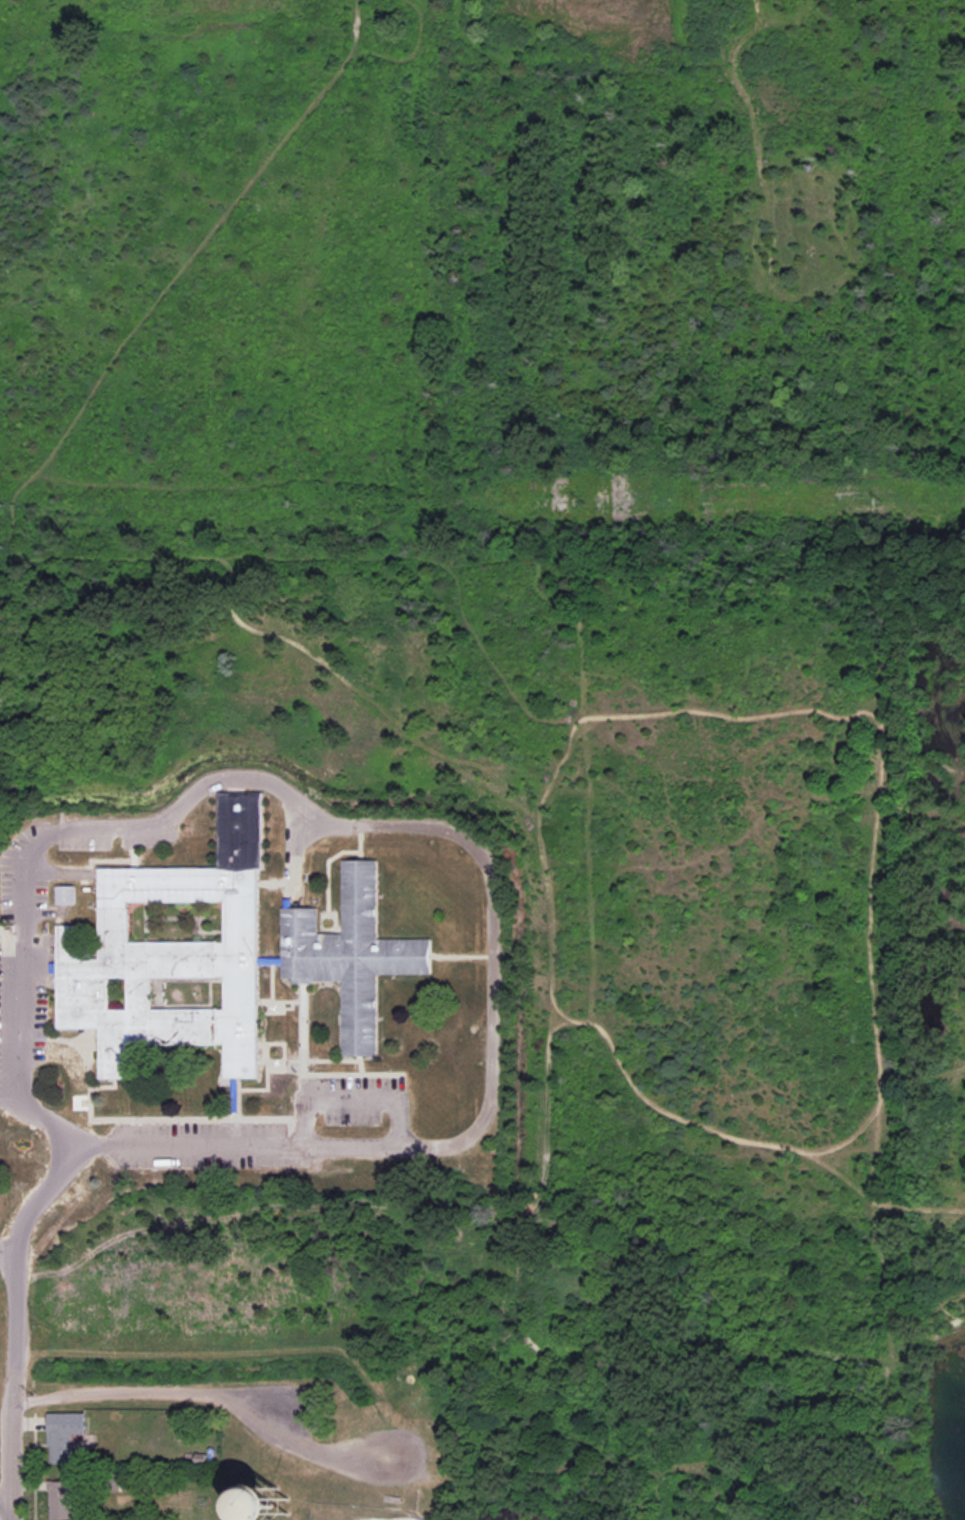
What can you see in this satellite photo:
road: (462, 844)
building: (65, 894)
building: (174, 953)
building: (350, 954)
road: (350, 1100)
road: (77, 1174)
road: (9, 1257)
road: (12, 1380)
road: (153, 1398)
building: (64, 1434)
road: (4, 1498)
building: (61, 1500)

